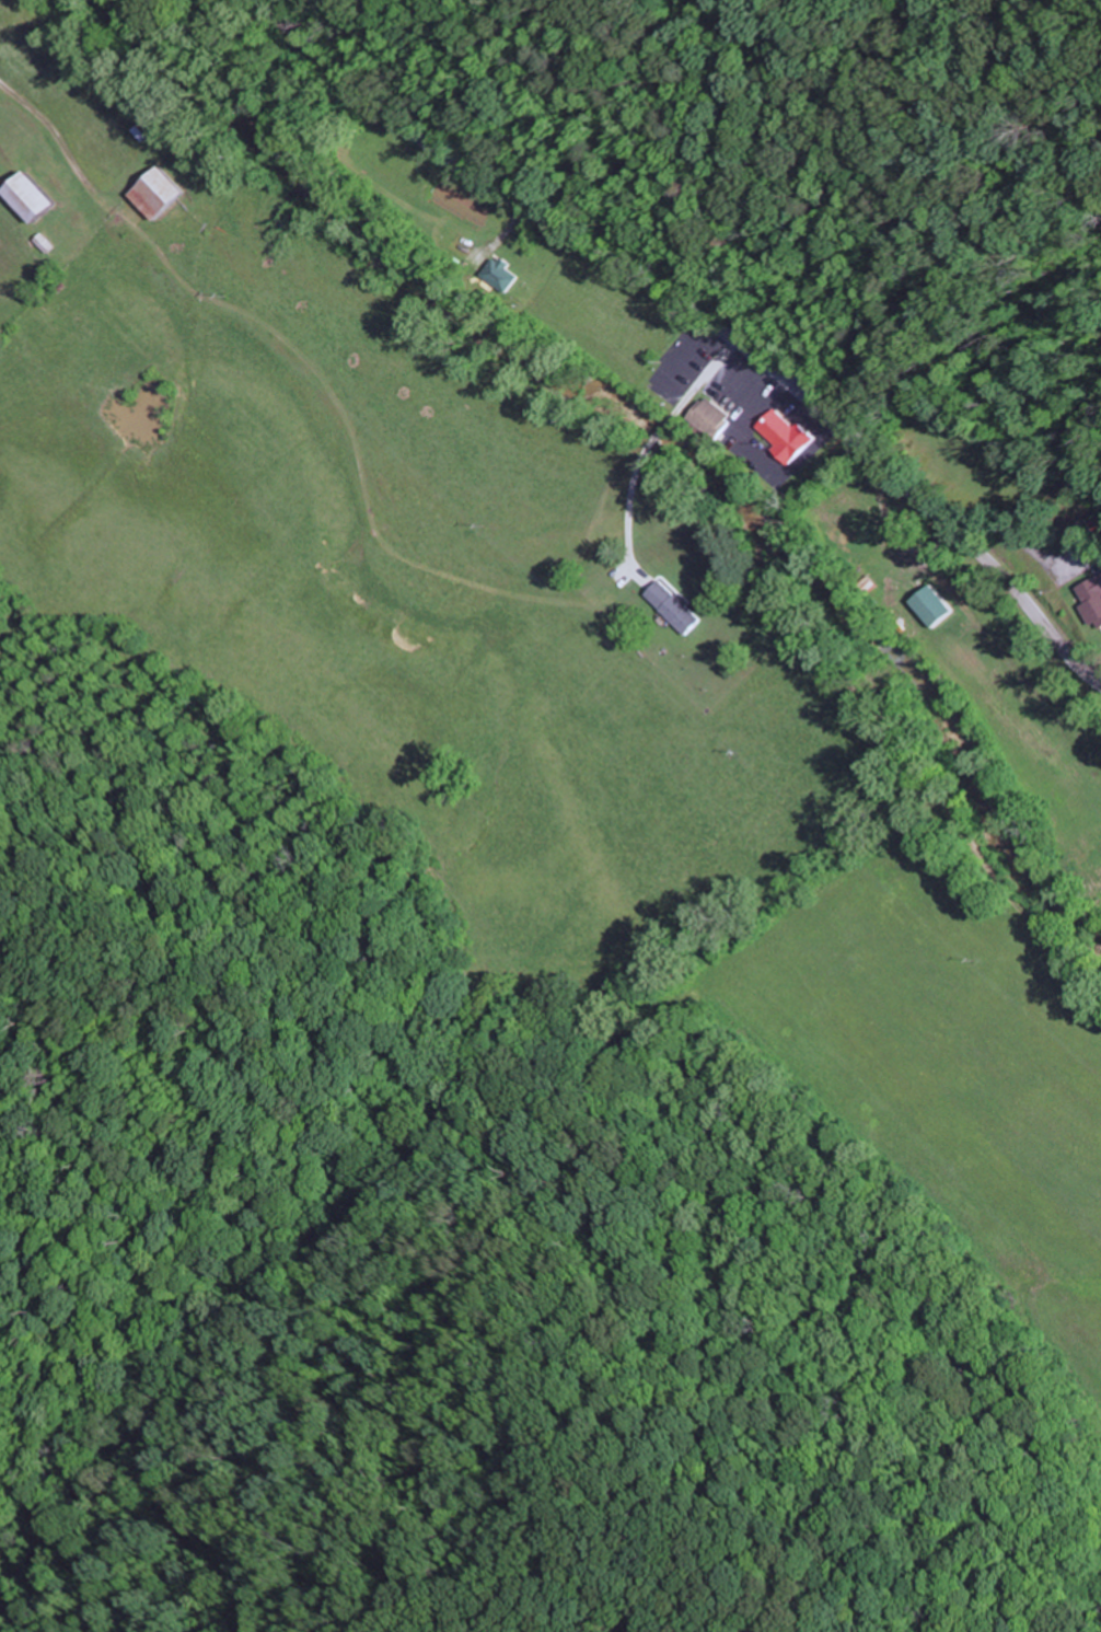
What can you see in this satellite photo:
building: (161, 194)
building: (36, 198)
road: (698, 313)
road: (293, 356)
building: (714, 418)
building: (786, 435)
road: (801, 502)
building: (1092, 598)
building: (676, 606)
road: (901, 849)

